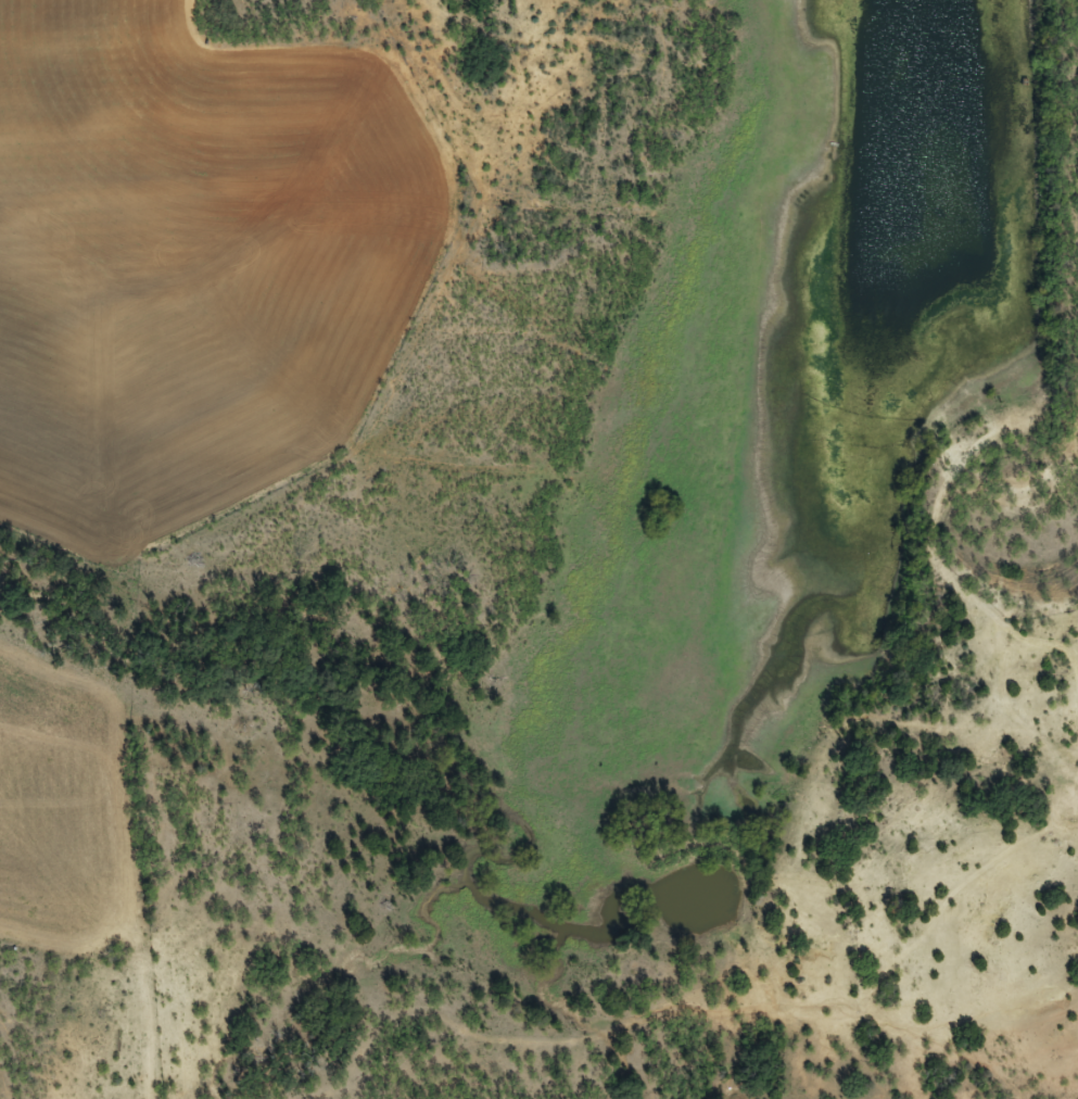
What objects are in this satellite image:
road: (1070, 645)

